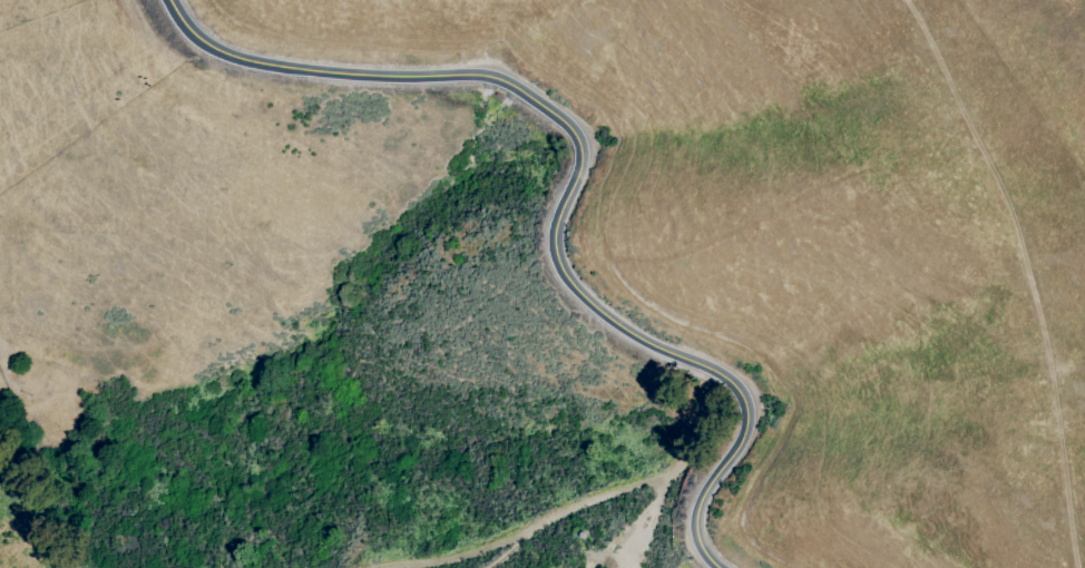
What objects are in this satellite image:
road: (571, 187)
road: (651, 478)
road: (470, 548)

